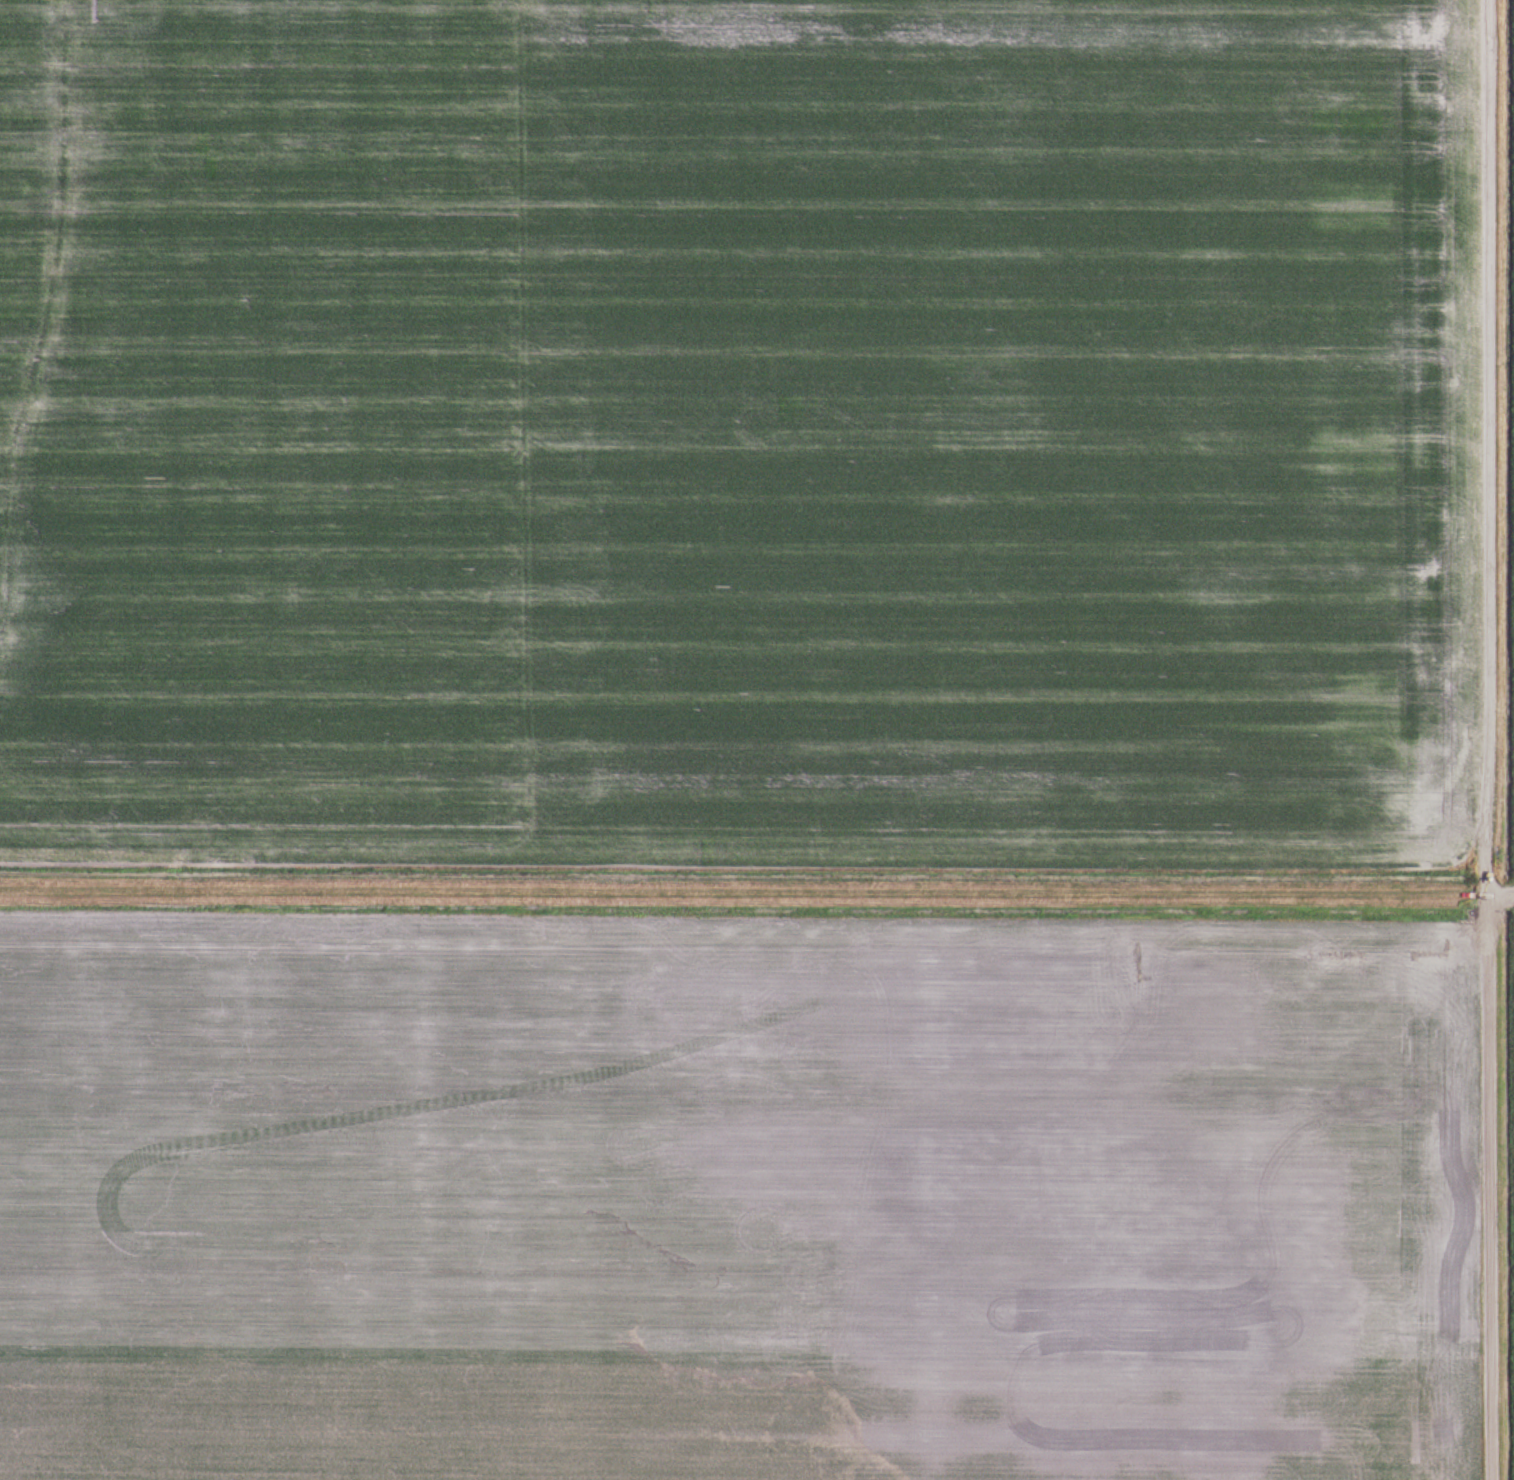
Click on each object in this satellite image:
crop: (735, 430)
road: (1487, 740)
road: (1503, 896)
crop: (738, 1196)

